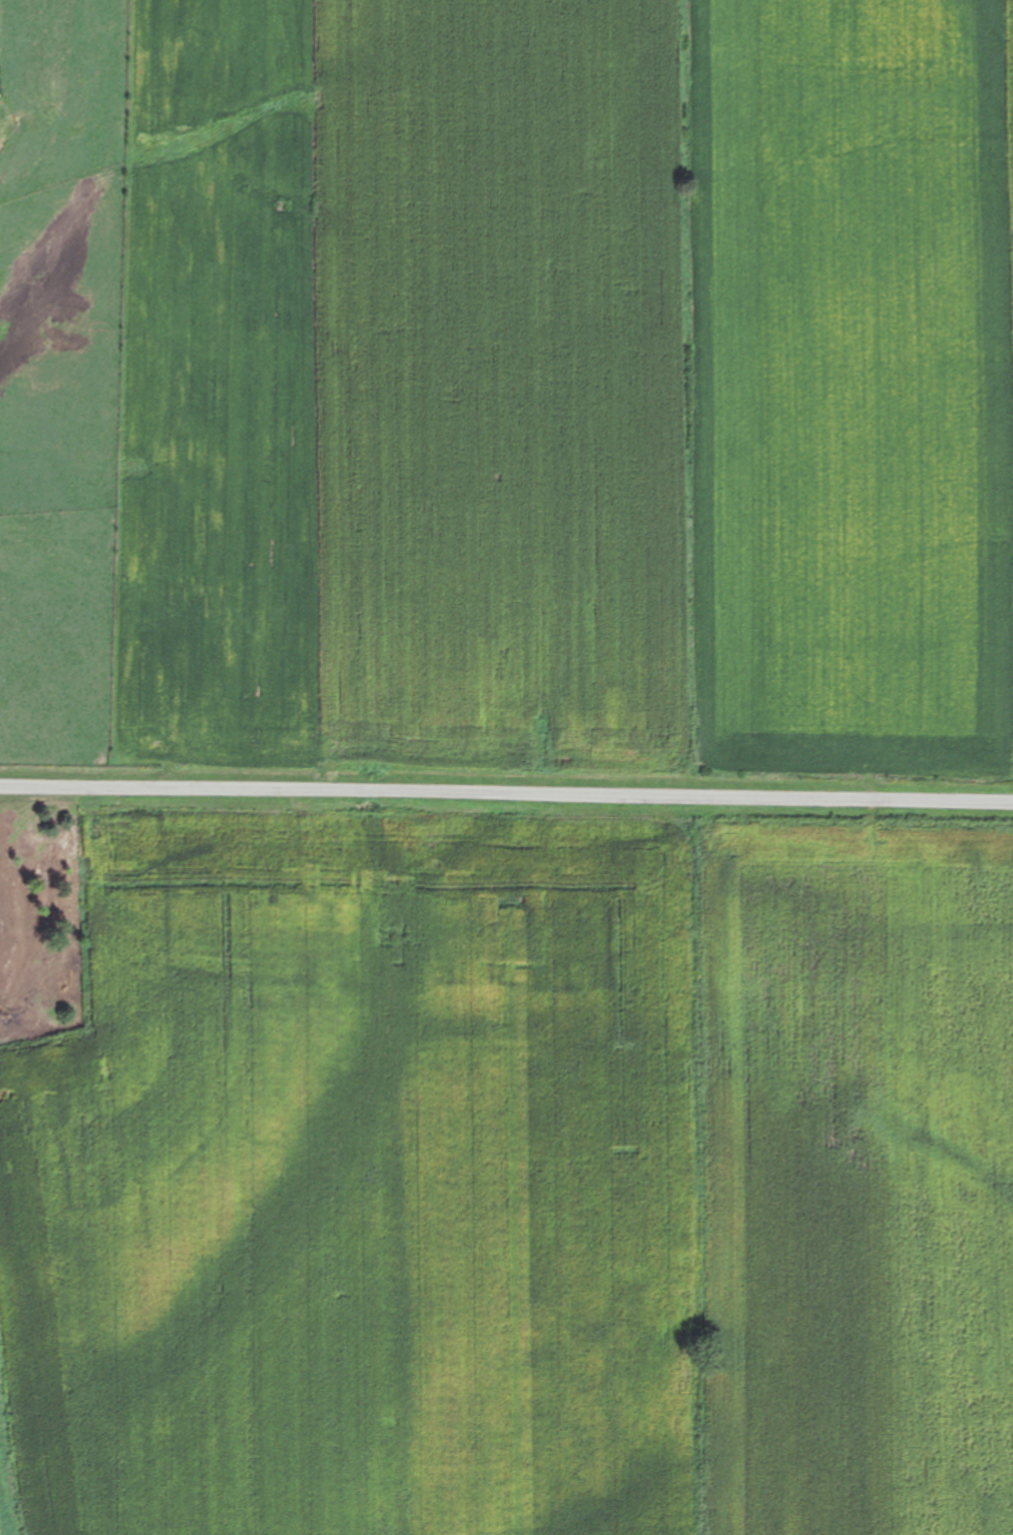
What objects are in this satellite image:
road: (506, 792)

